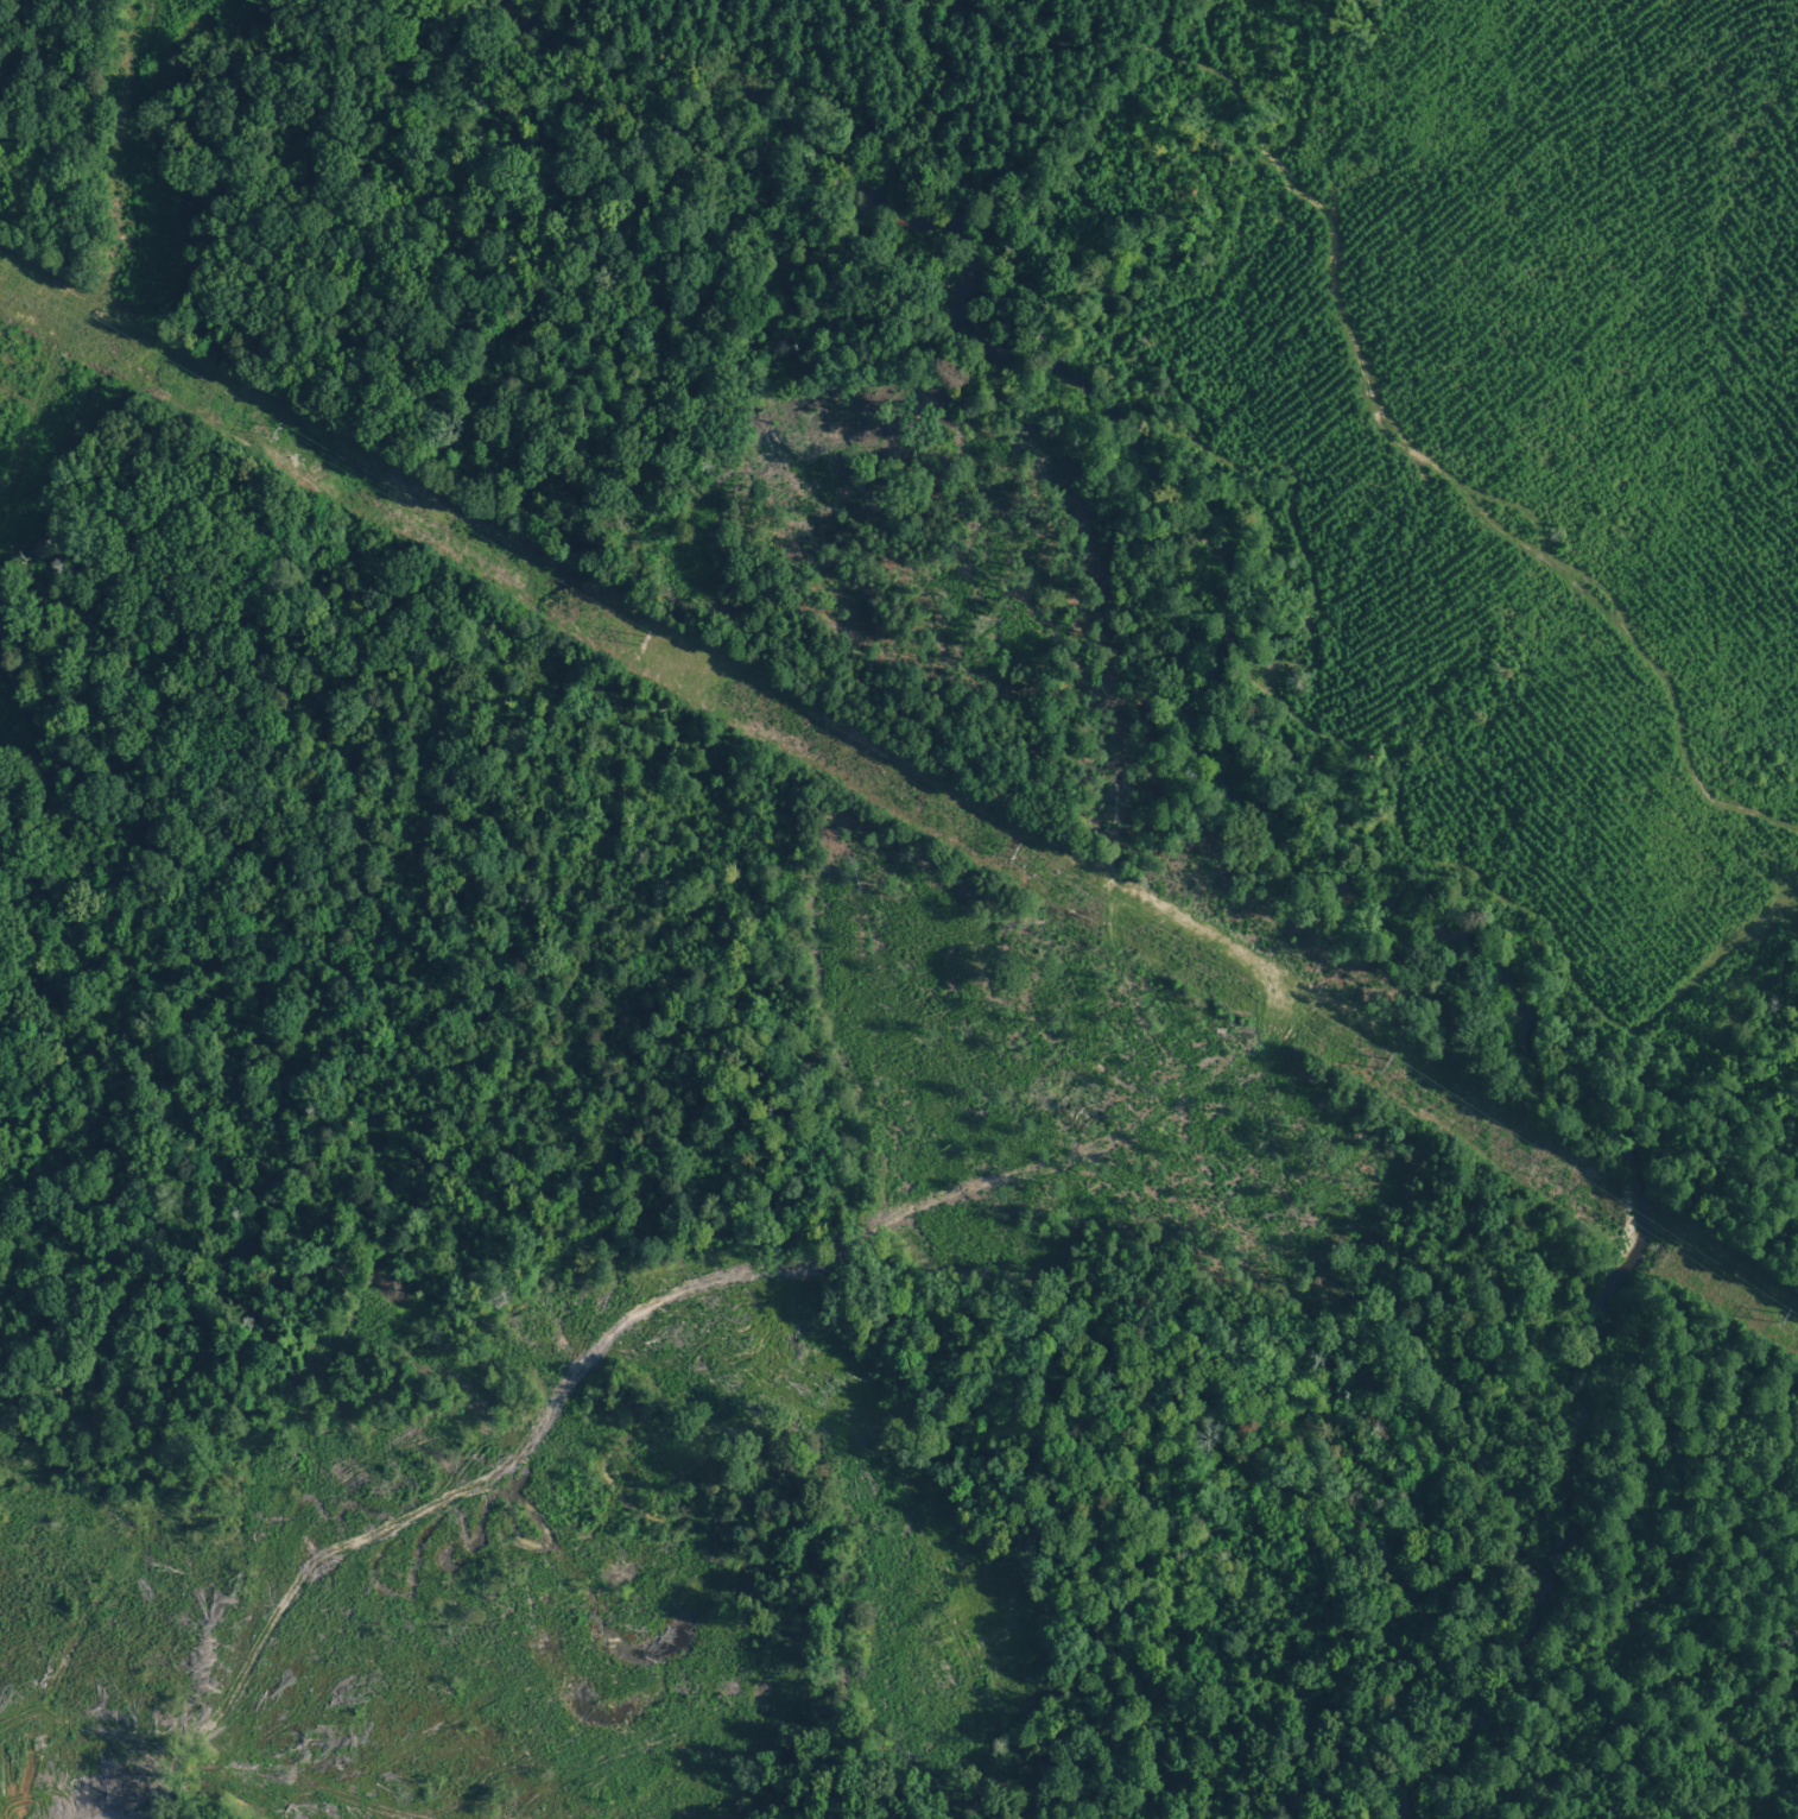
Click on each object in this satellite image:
power tower: (245, 431)
power tower: (601, 642)
power tower: (974, 860)
power tower: (1344, 1079)
power tower: (1764, 1326)

